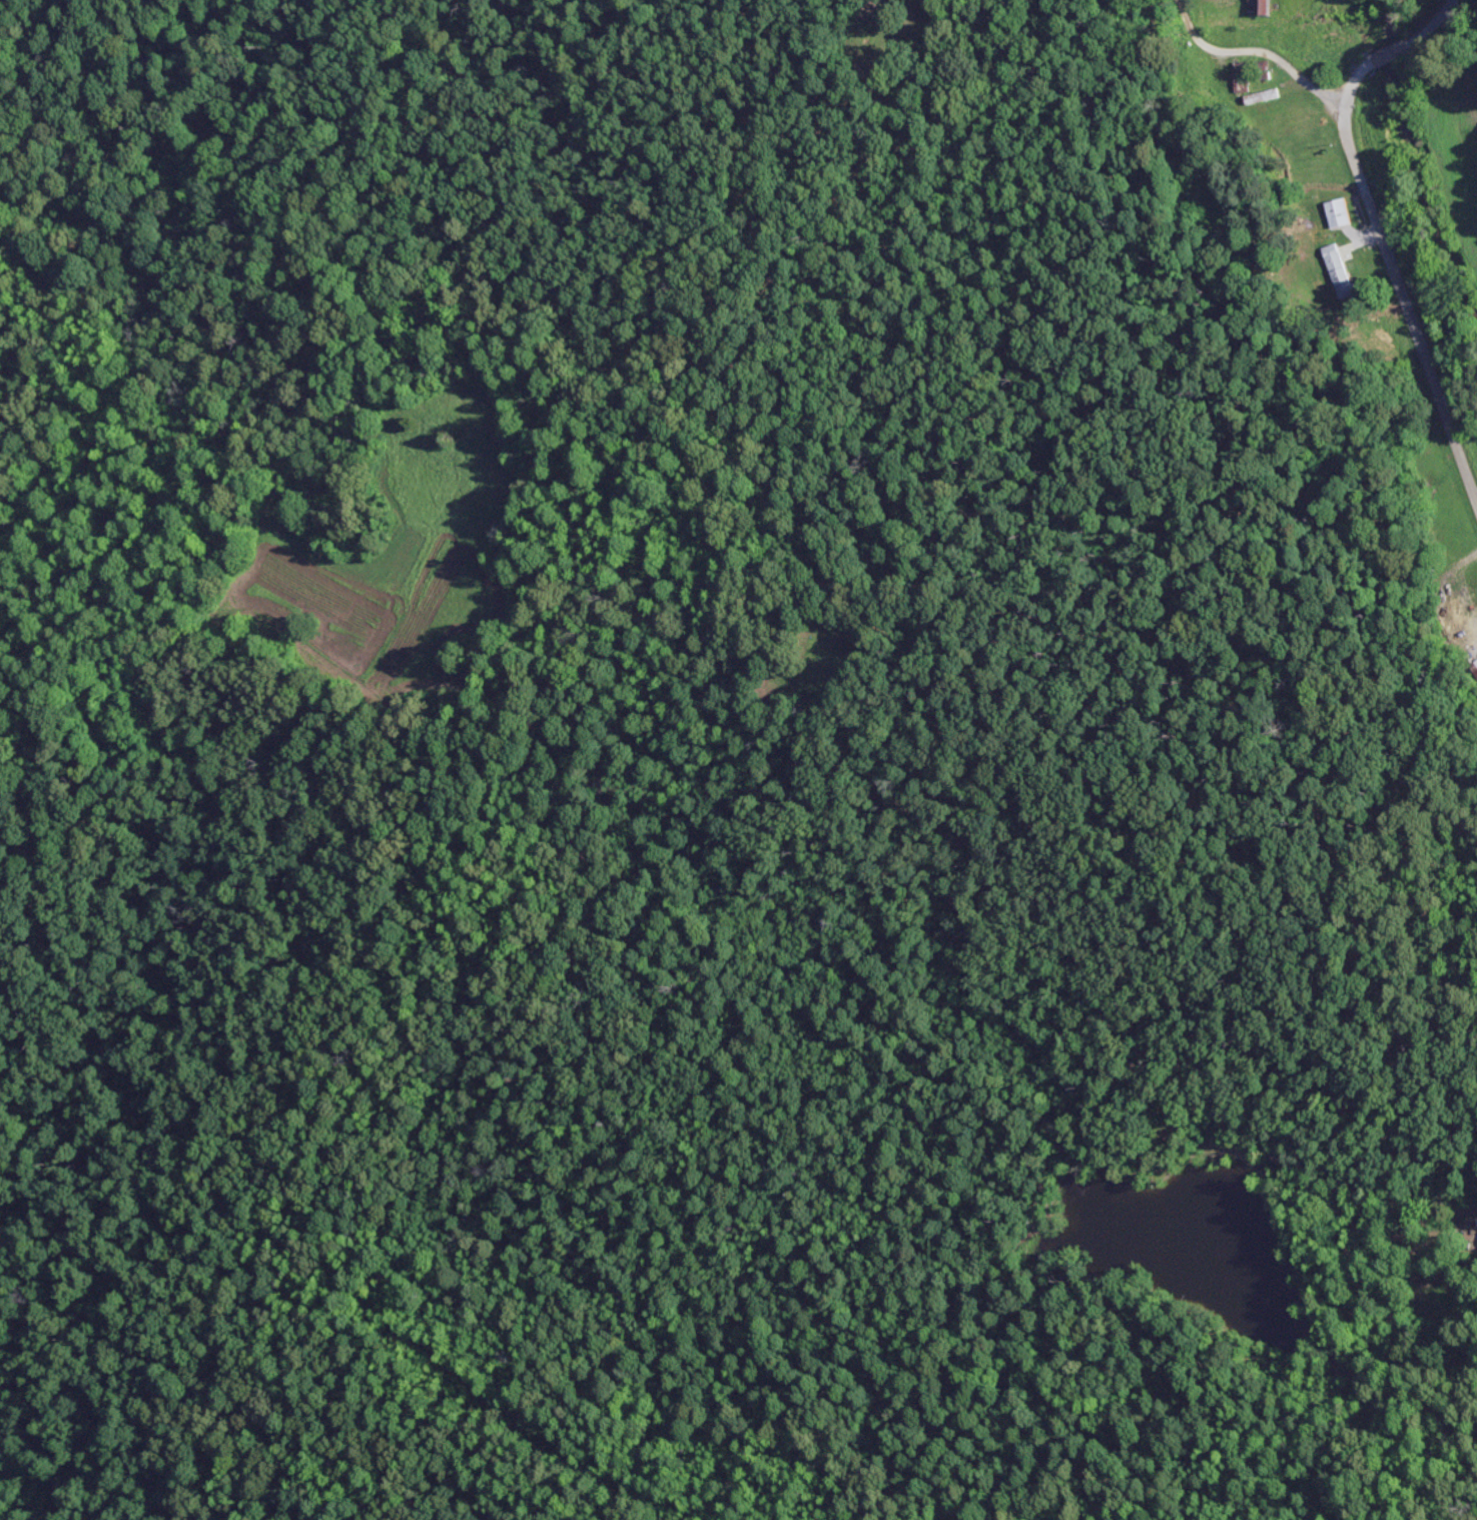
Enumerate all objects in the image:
road: (1433, 26)
road: (1390, 55)
building: (1340, 213)
building: (1341, 271)
road: (1398, 279)

